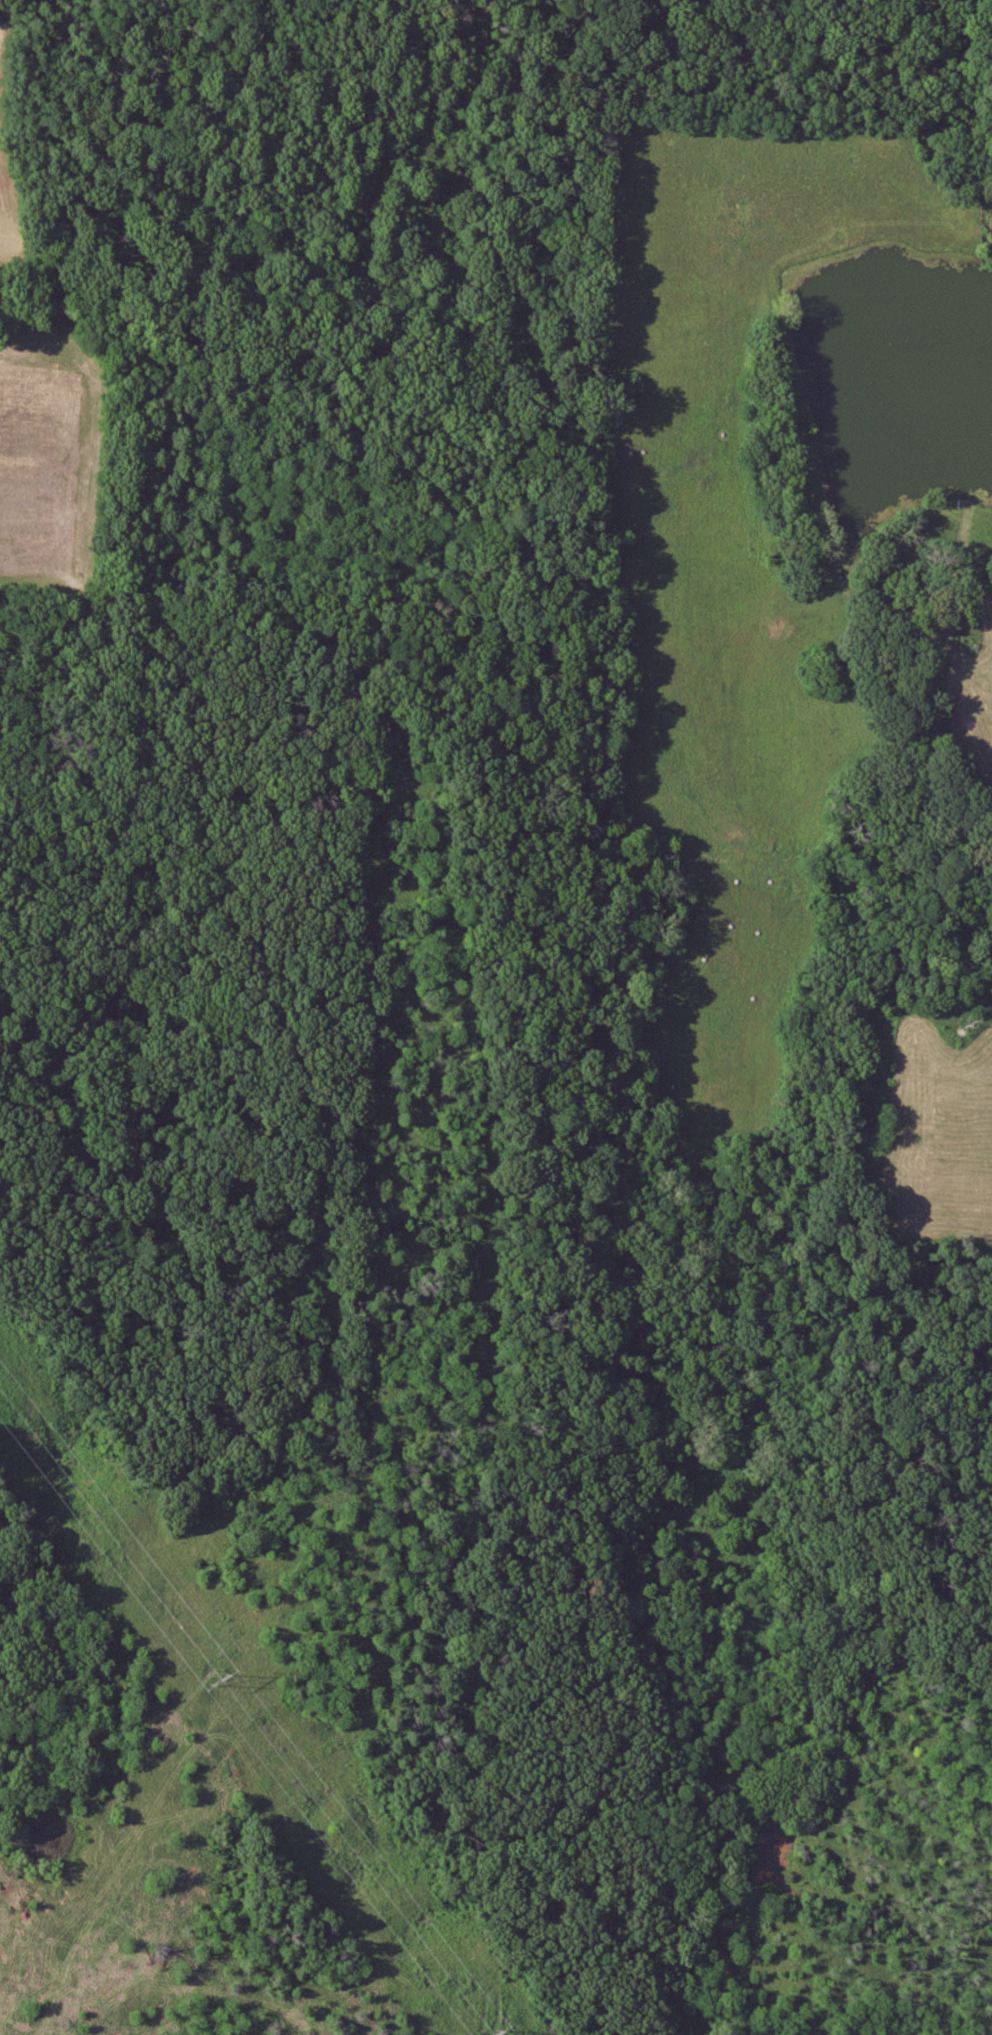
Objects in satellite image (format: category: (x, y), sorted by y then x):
power tower: (215, 1681)

